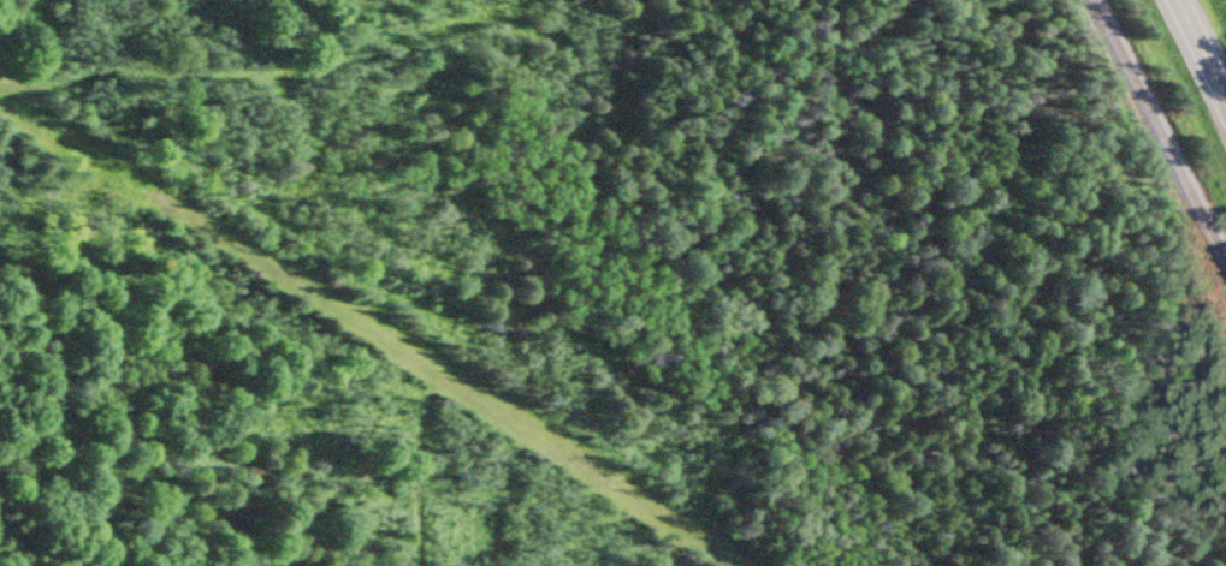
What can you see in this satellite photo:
road: (1202, 47)
railway: (1155, 137)

